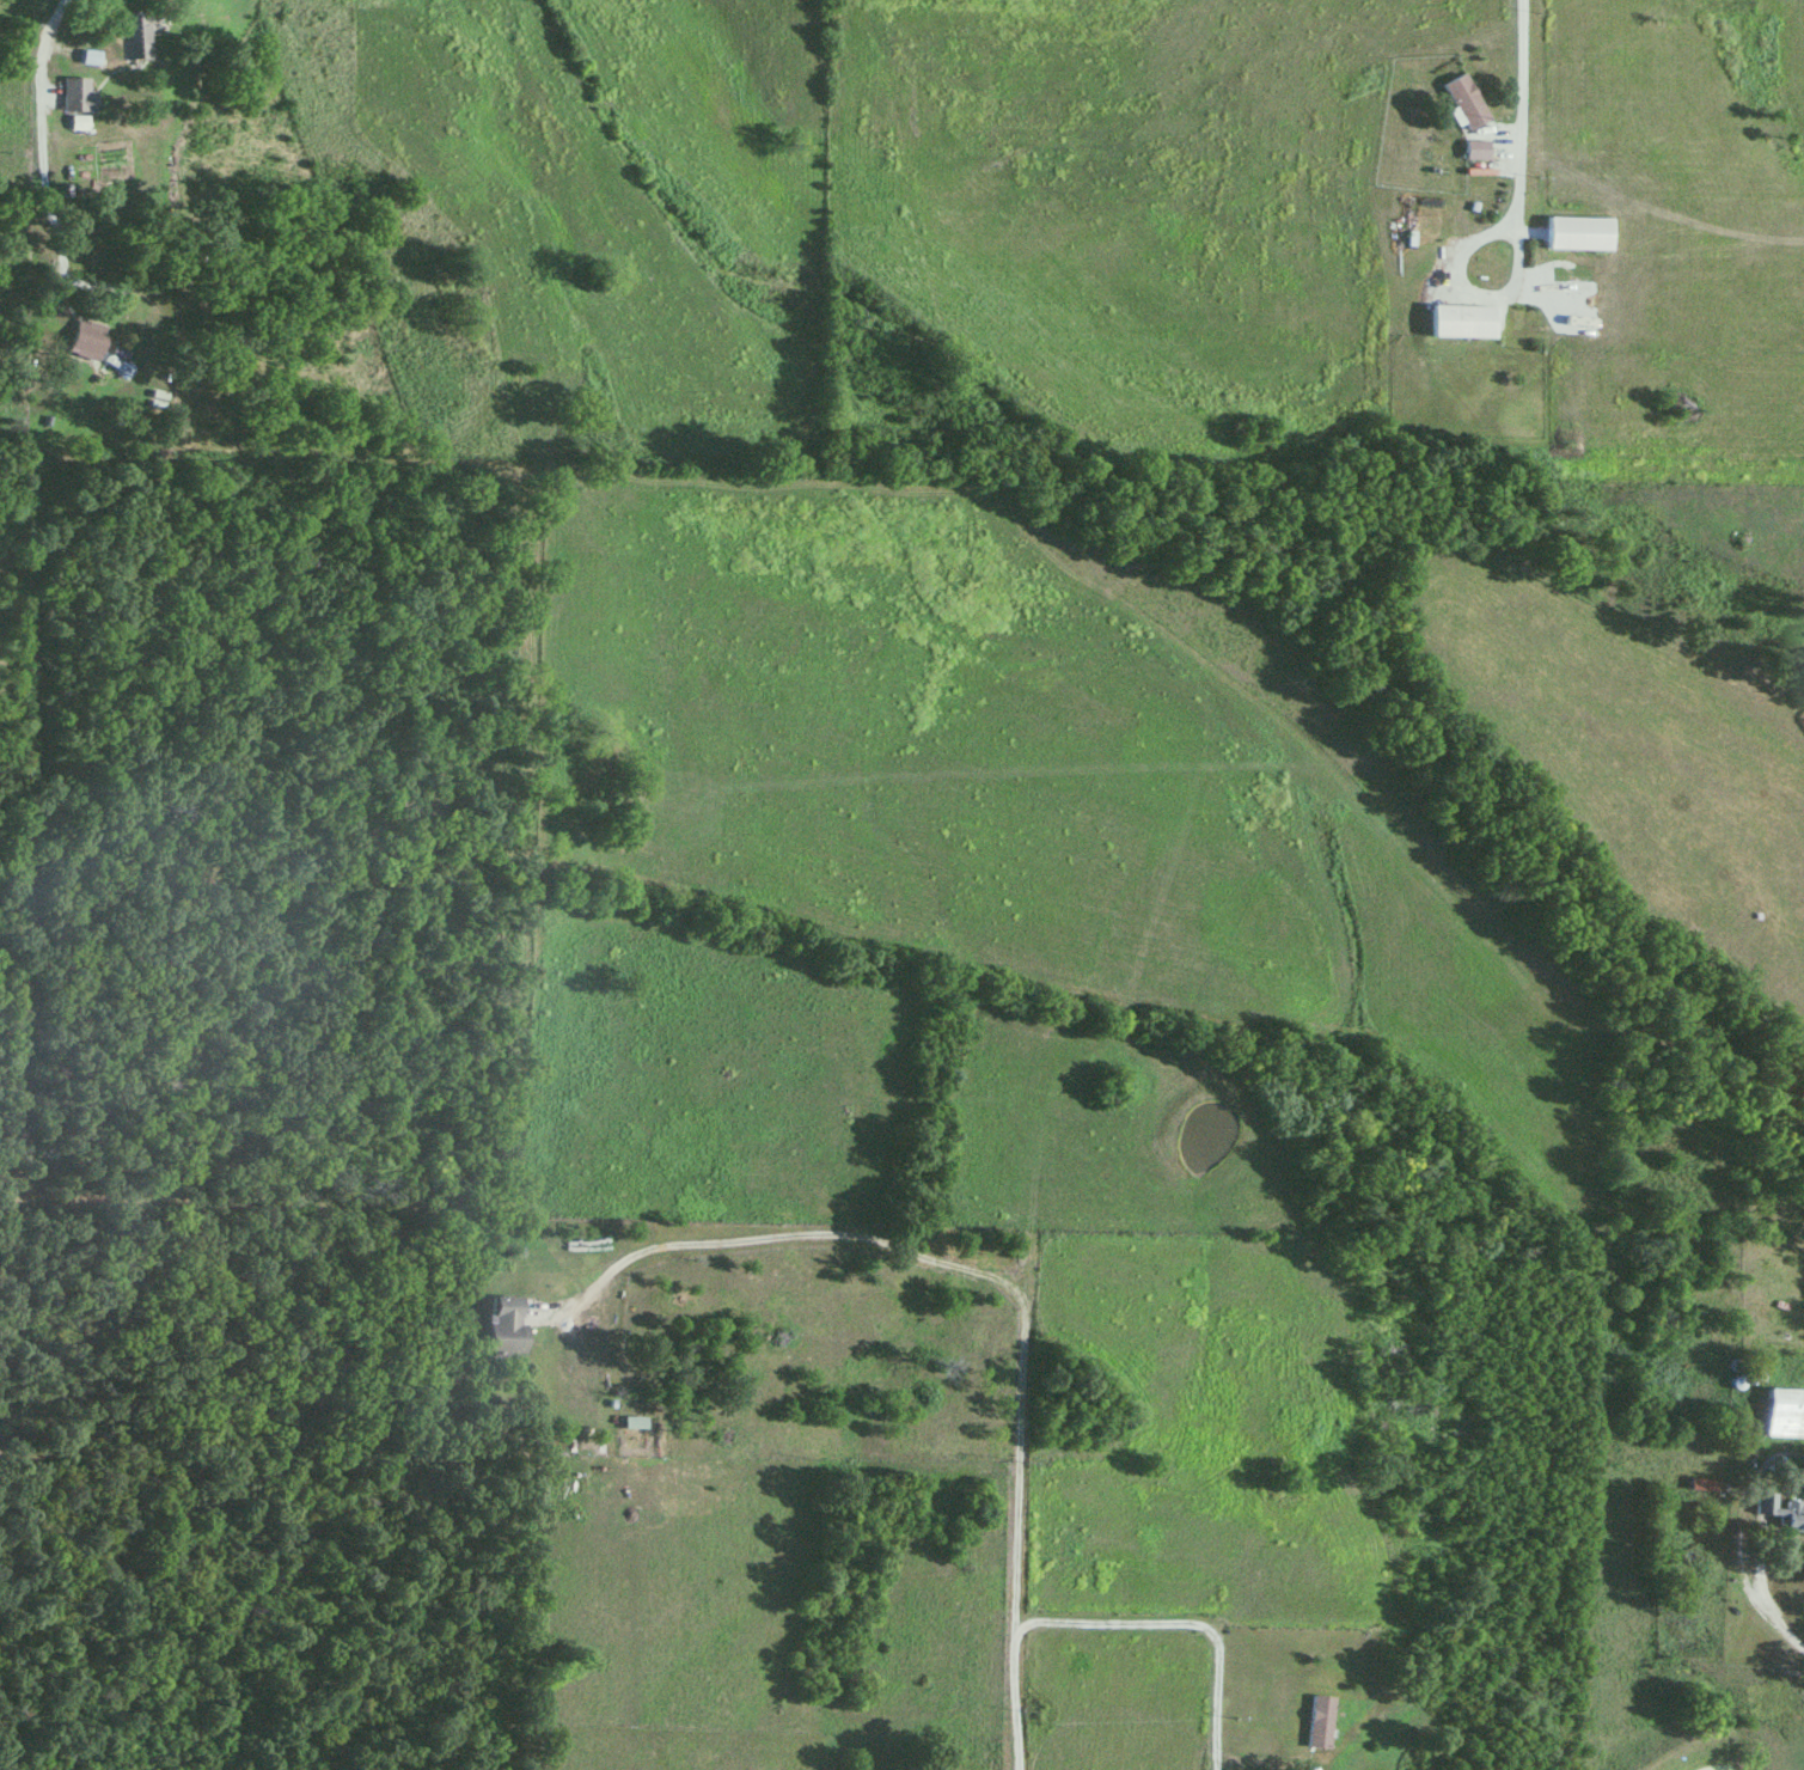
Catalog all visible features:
building: (130, 37)
road: (1517, 74)
building: (77, 94)
building: (1457, 100)
road: (33, 147)
building: (1468, 149)
building: (1570, 233)
building: (1454, 322)
road: (984, 1278)
building: (503, 1329)
building: (1744, 1377)
building: (1779, 1415)
building: (634, 1424)
building: (1777, 1513)
road: (1767, 1622)
road: (1179, 1623)

